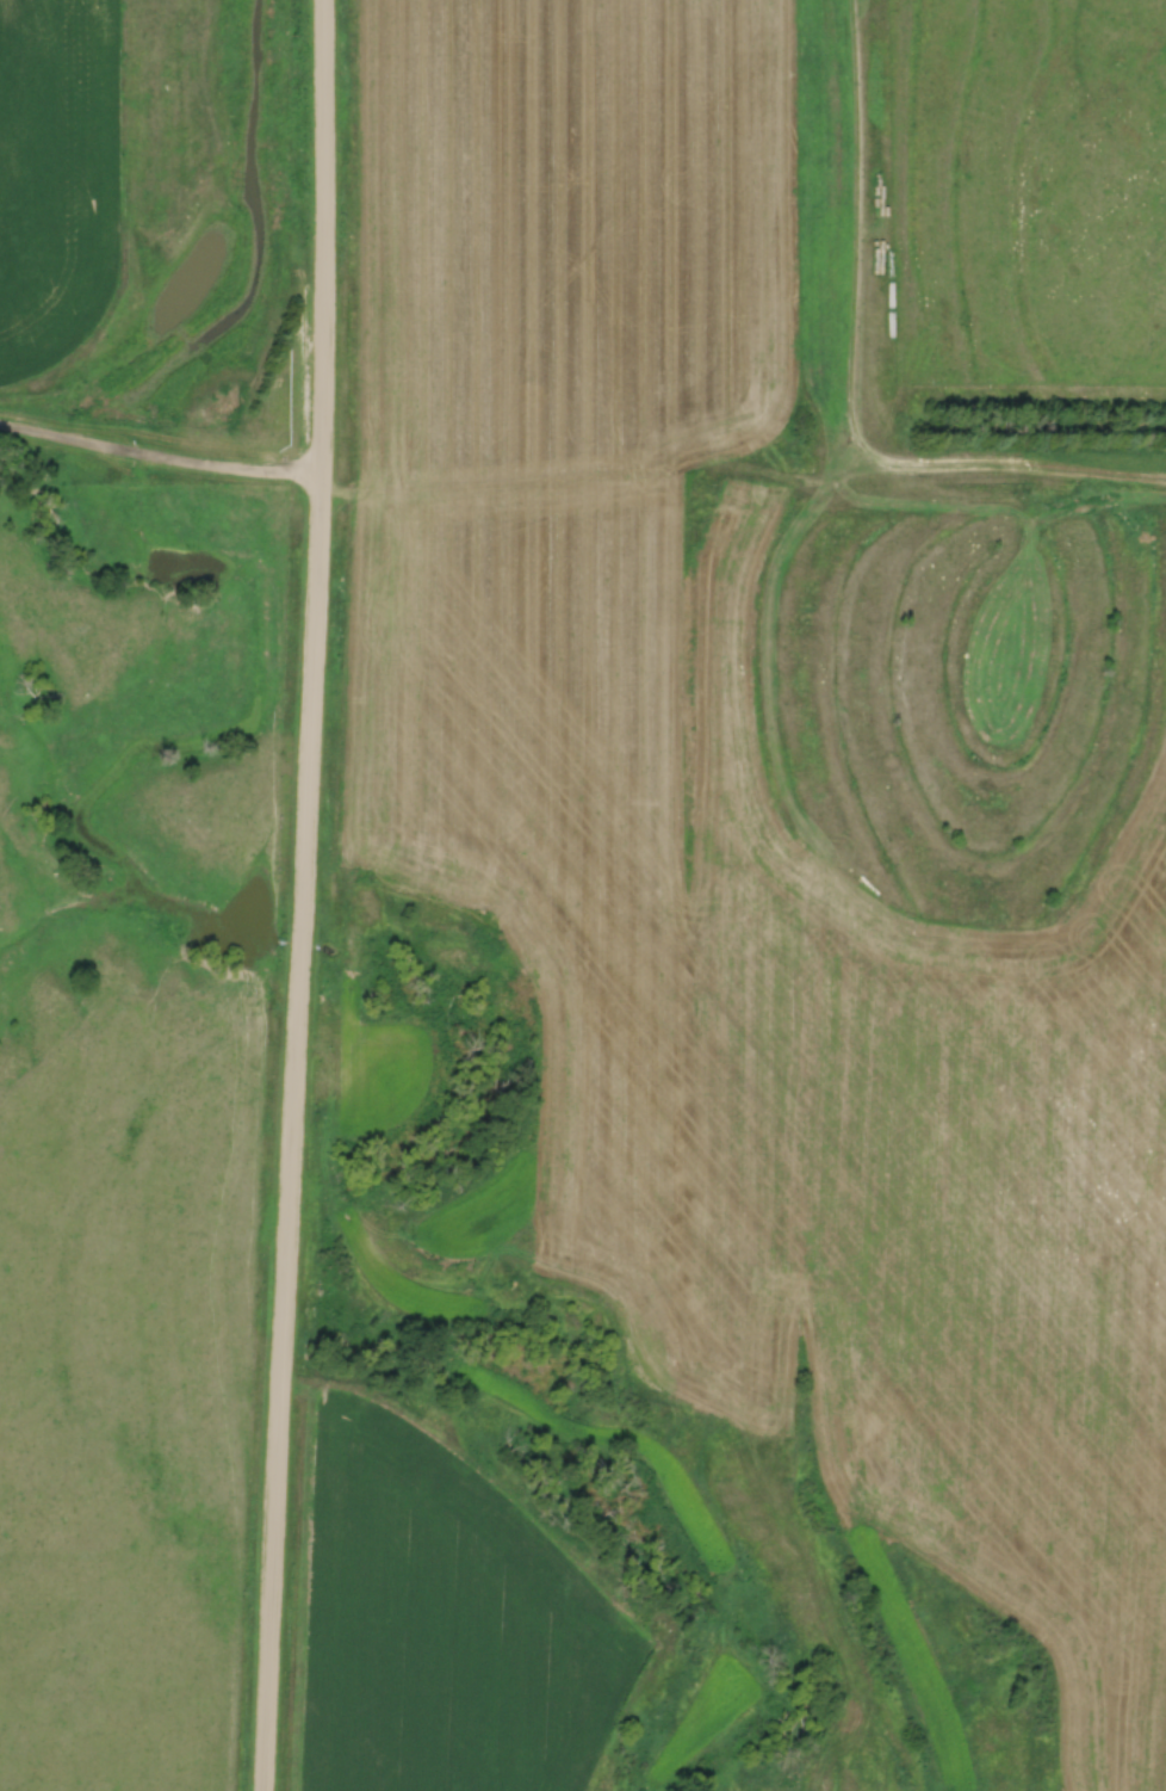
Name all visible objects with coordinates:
road: (160, 457)
road: (306, 896)

